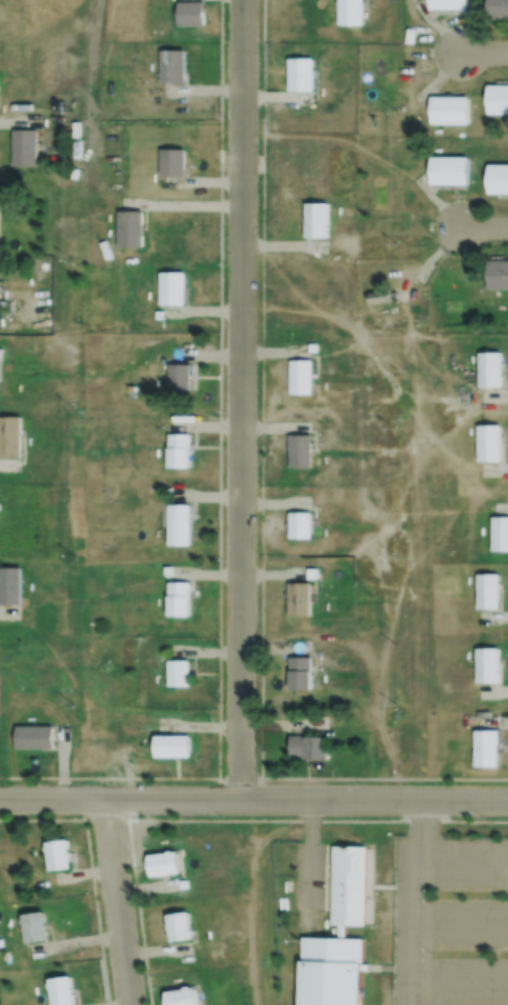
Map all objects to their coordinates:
building: (447, 3)
building: (497, 9)
building: (190, 12)
building: (350, 12)
road: (483, 54)
building: (171, 65)
building: (299, 74)
building: (497, 98)
building: (449, 109)
building: (24, 148)
building: (171, 161)
building: (448, 170)
building: (497, 179)
building: (2, 188)
road: (183, 204)
building: (315, 219)
road: (486, 226)
building: (129, 228)
building: (497, 274)
building: (171, 287)
building: (378, 296)
building: (158, 315)
building: (111, 352)
building: (488, 369)
building: (179, 377)
building: (300, 377)
building: (130, 388)
road: (240, 398)
building: (9, 436)
building: (488, 443)
building: (178, 451)
building: (300, 451)
building: (167, 492)
road: (409, 501)
building: (179, 524)
building: (300, 525)
building: (499, 534)
building: (166, 570)
building: (10, 584)
building: (487, 591)
building: (178, 598)
building: (299, 599)
building: (486, 665)
building: (178, 672)
building: (299, 673)
building: (33, 736)
building: (171, 746)
building: (308, 747)
building: (485, 748)
road: (253, 798)
building: (57, 854)
building: (162, 863)
building: (182, 884)
building: (350, 886)
road: (411, 900)
road: (118, 902)
parking lot: (450, 920)
building: (34, 926)
building: (178, 926)
building: (328, 971)
building: (60, 991)
building: (179, 997)

